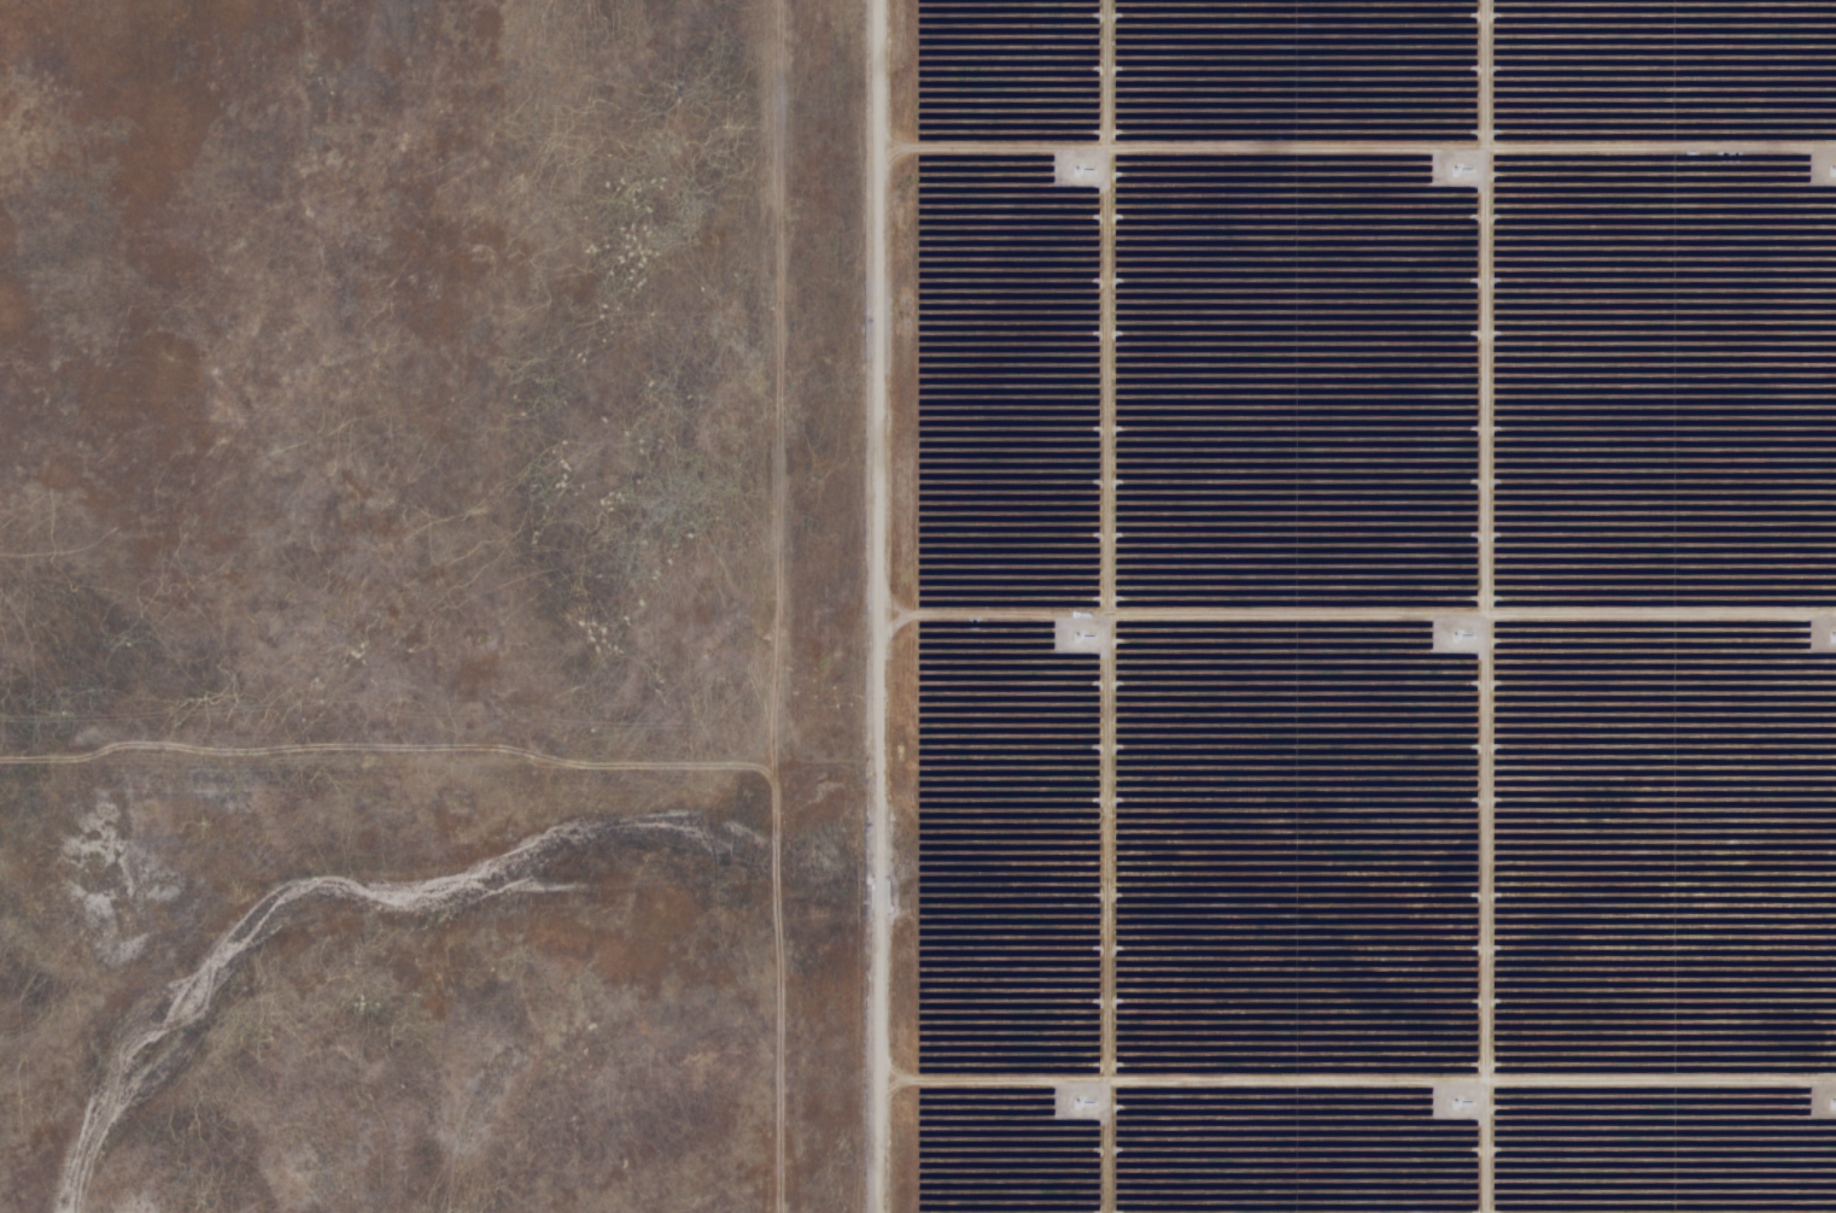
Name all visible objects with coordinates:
solar farm: (918, 606)

